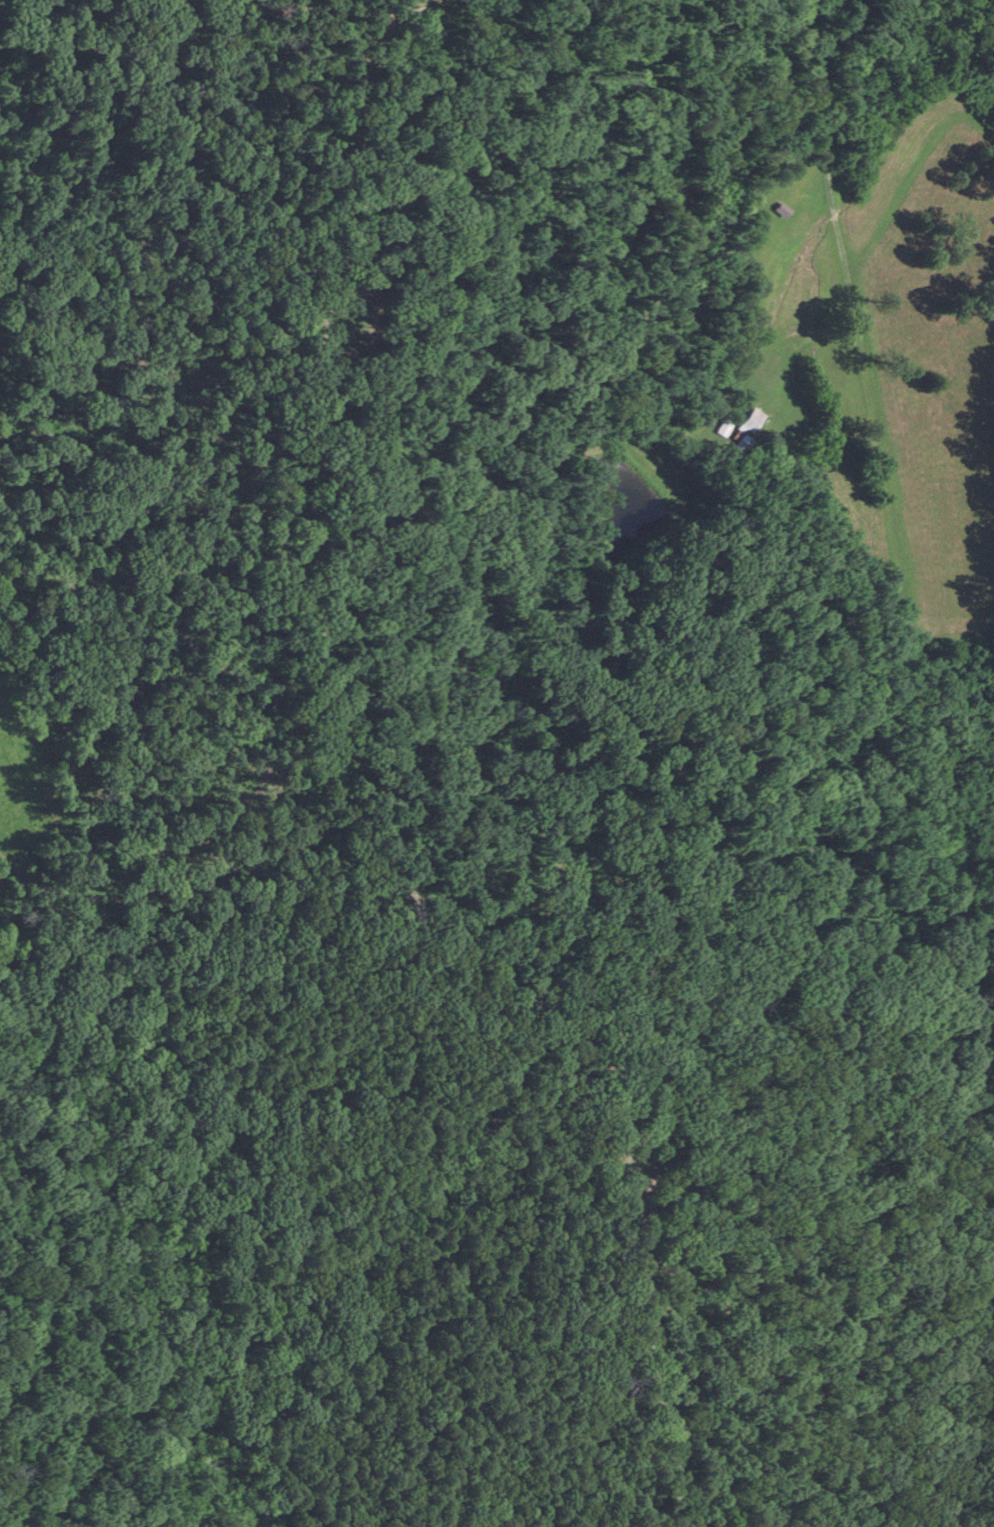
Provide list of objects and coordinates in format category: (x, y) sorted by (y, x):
building: (751, 422)
road: (655, 1349)

